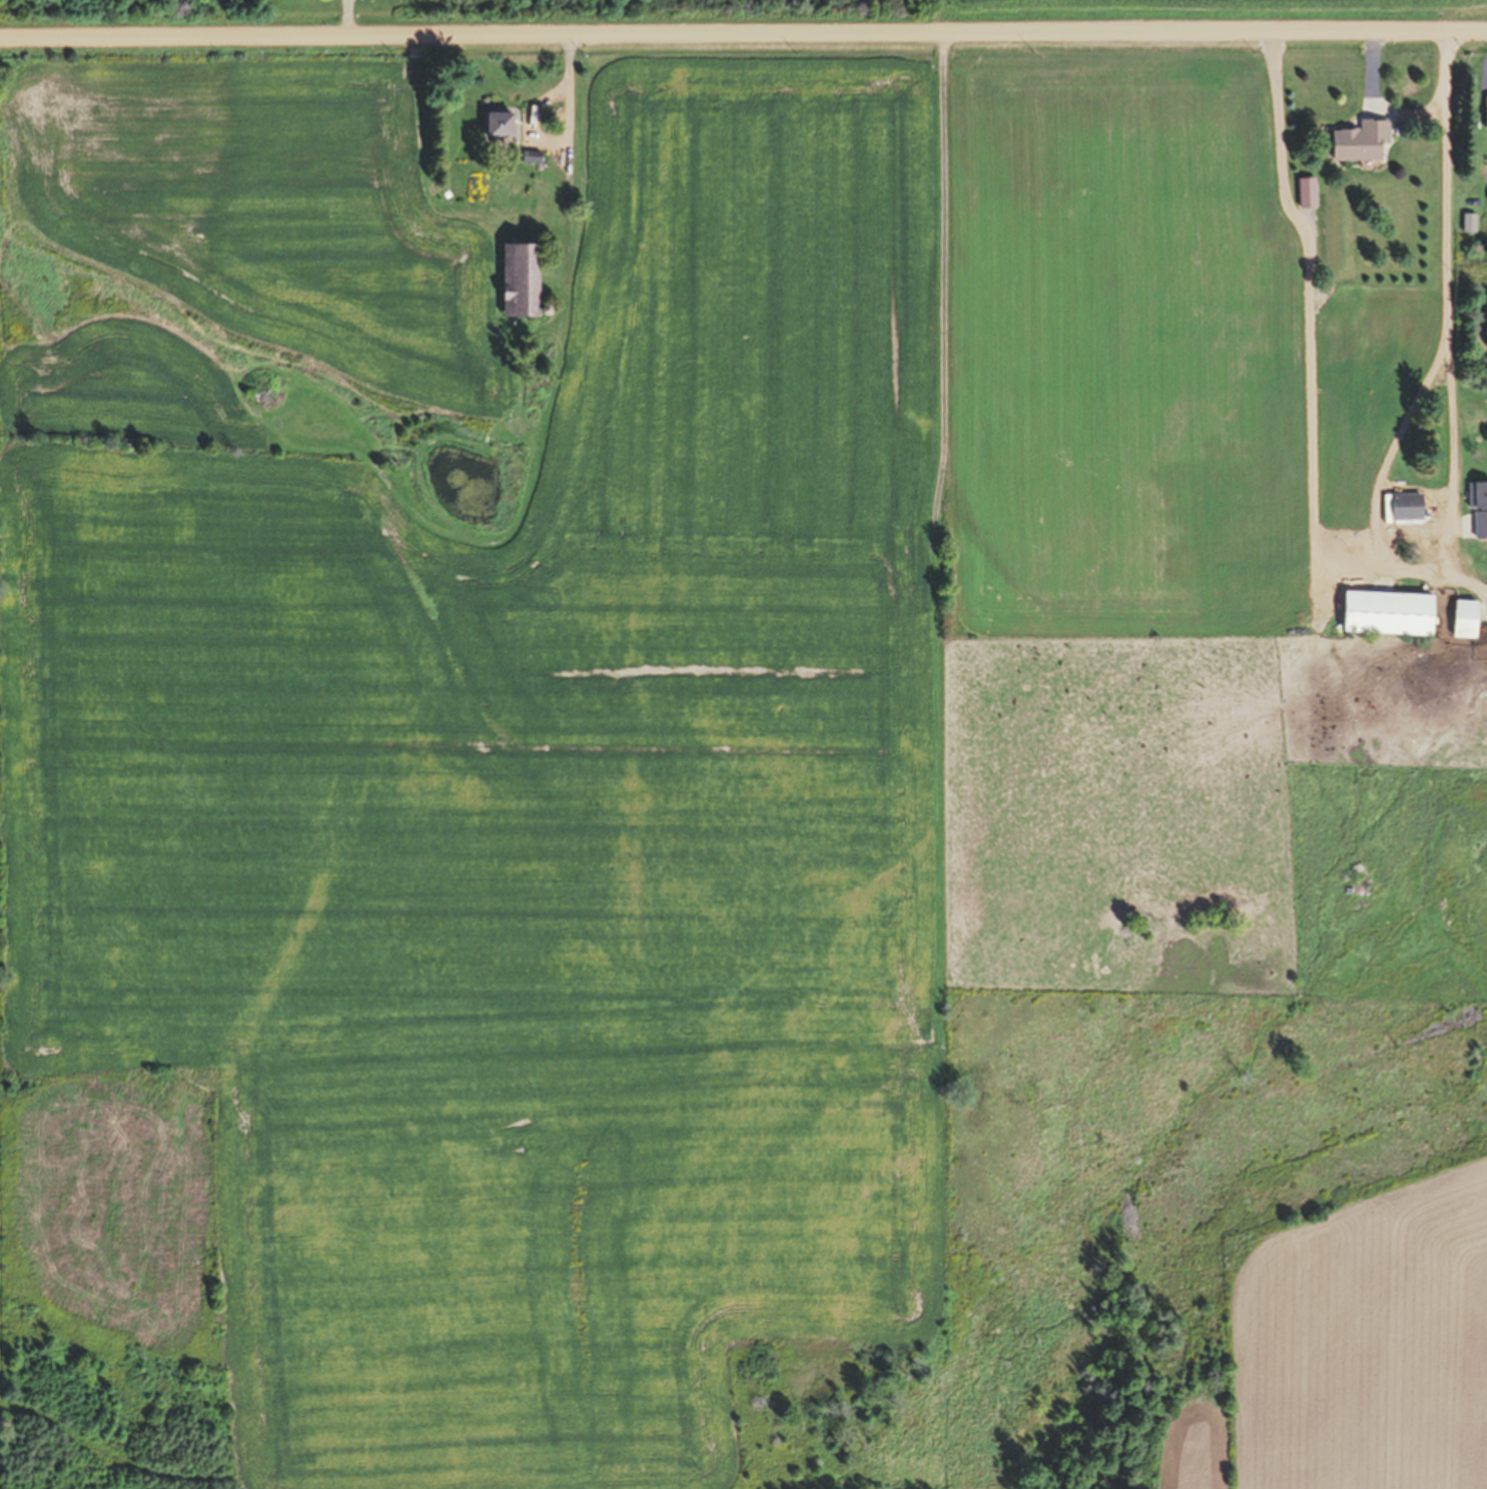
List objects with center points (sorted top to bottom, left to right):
road: (743, 31)
building: (1484, 111)
building: (495, 123)
building: (1357, 140)
building: (528, 156)
building: (1304, 192)
building: (1467, 222)
building: (516, 279)
building: (1476, 494)
building: (1403, 506)
building: (1479, 524)
building: (1382, 613)
building: (1460, 618)
quarry: (796, 1479)

